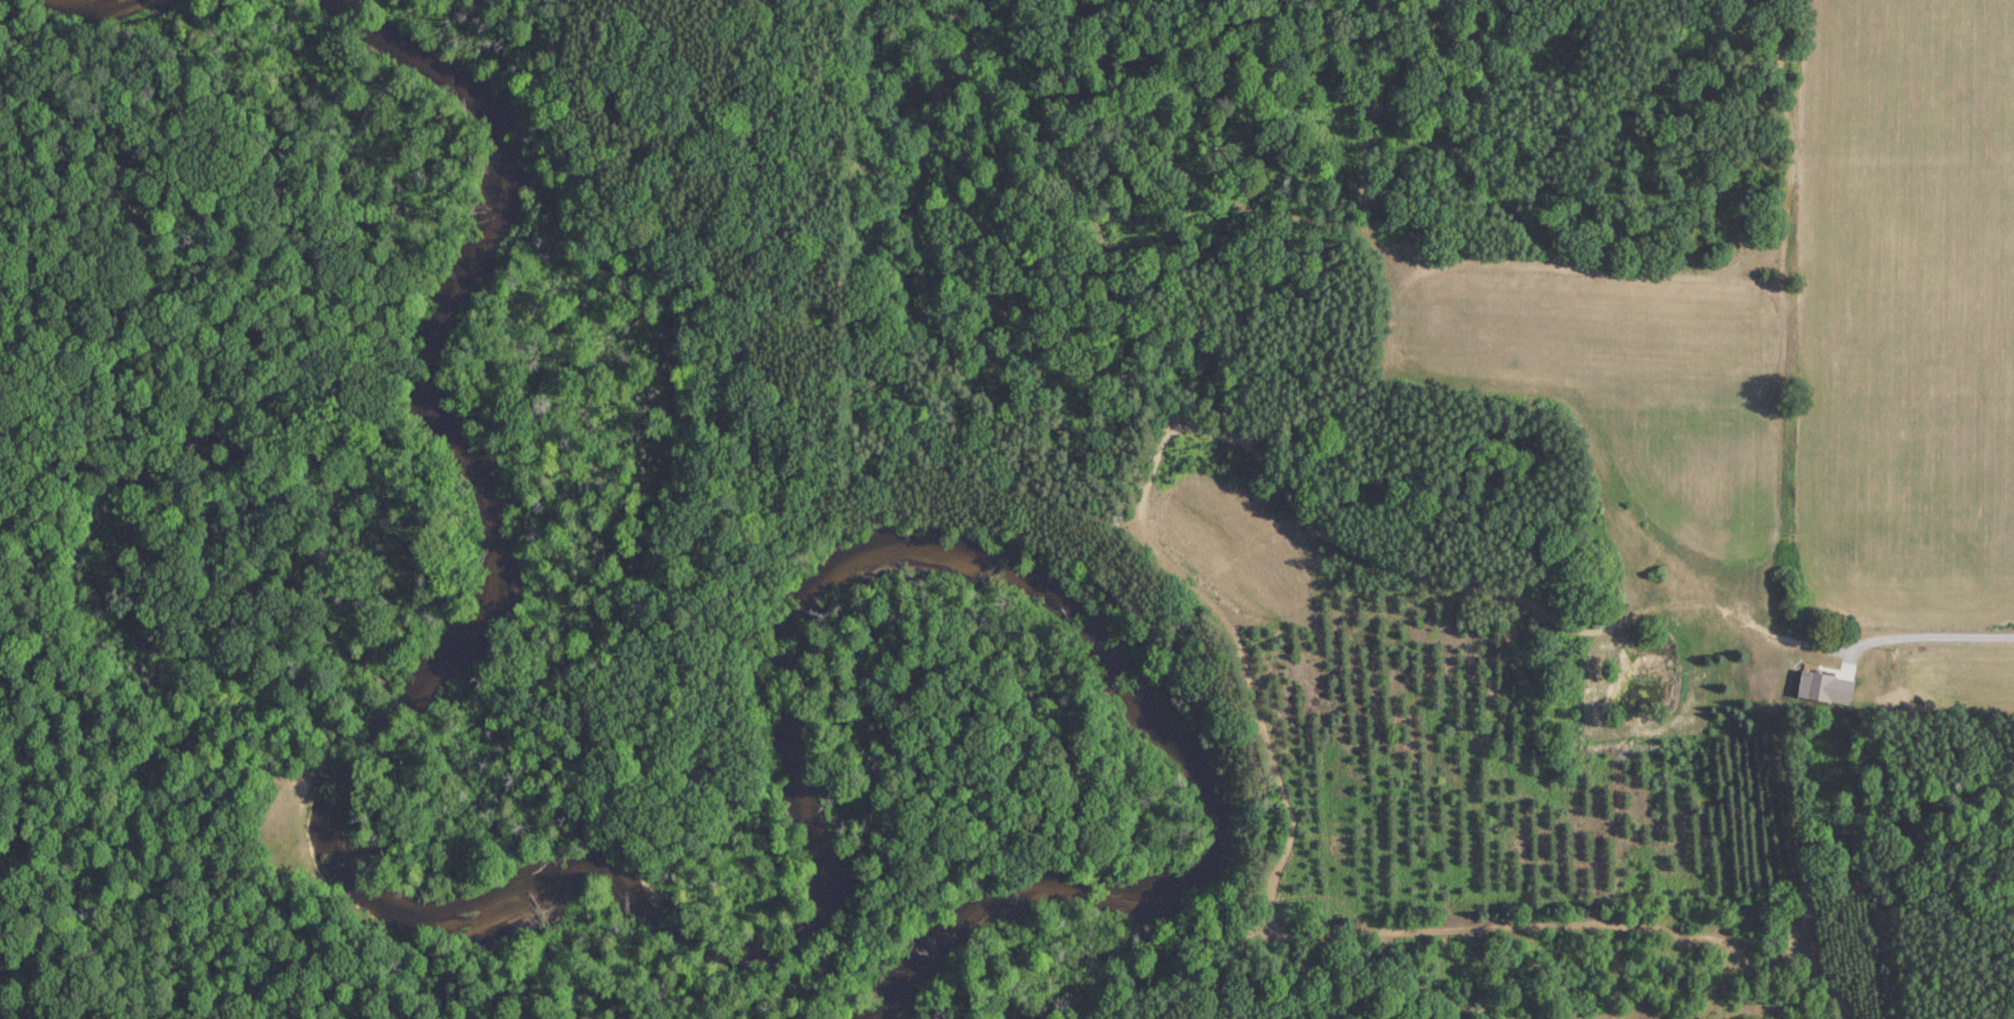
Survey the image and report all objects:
river: (86, 10)
road: (1804, 640)
river: (708, 938)

